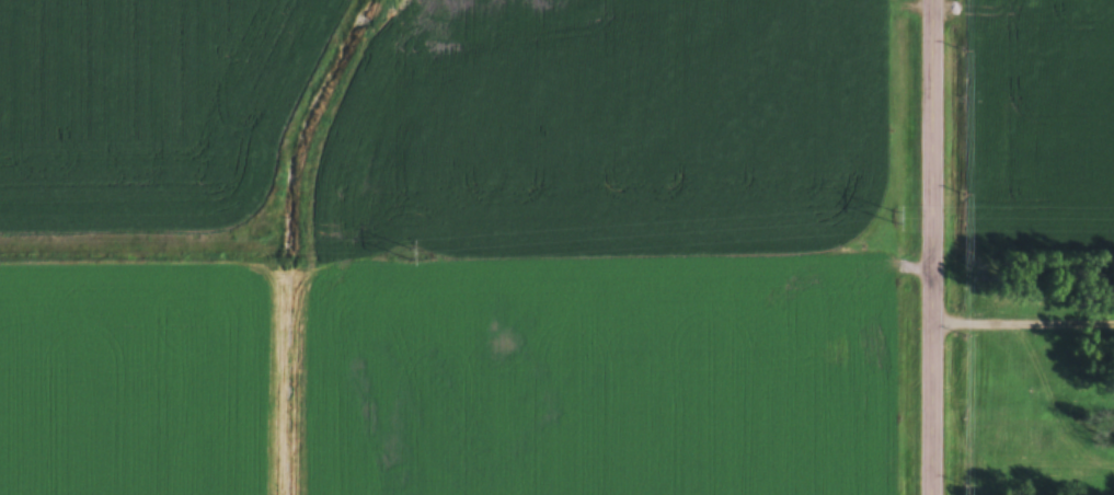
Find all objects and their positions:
power tower: (893, 217)
road: (933, 248)
power tower: (407, 253)

